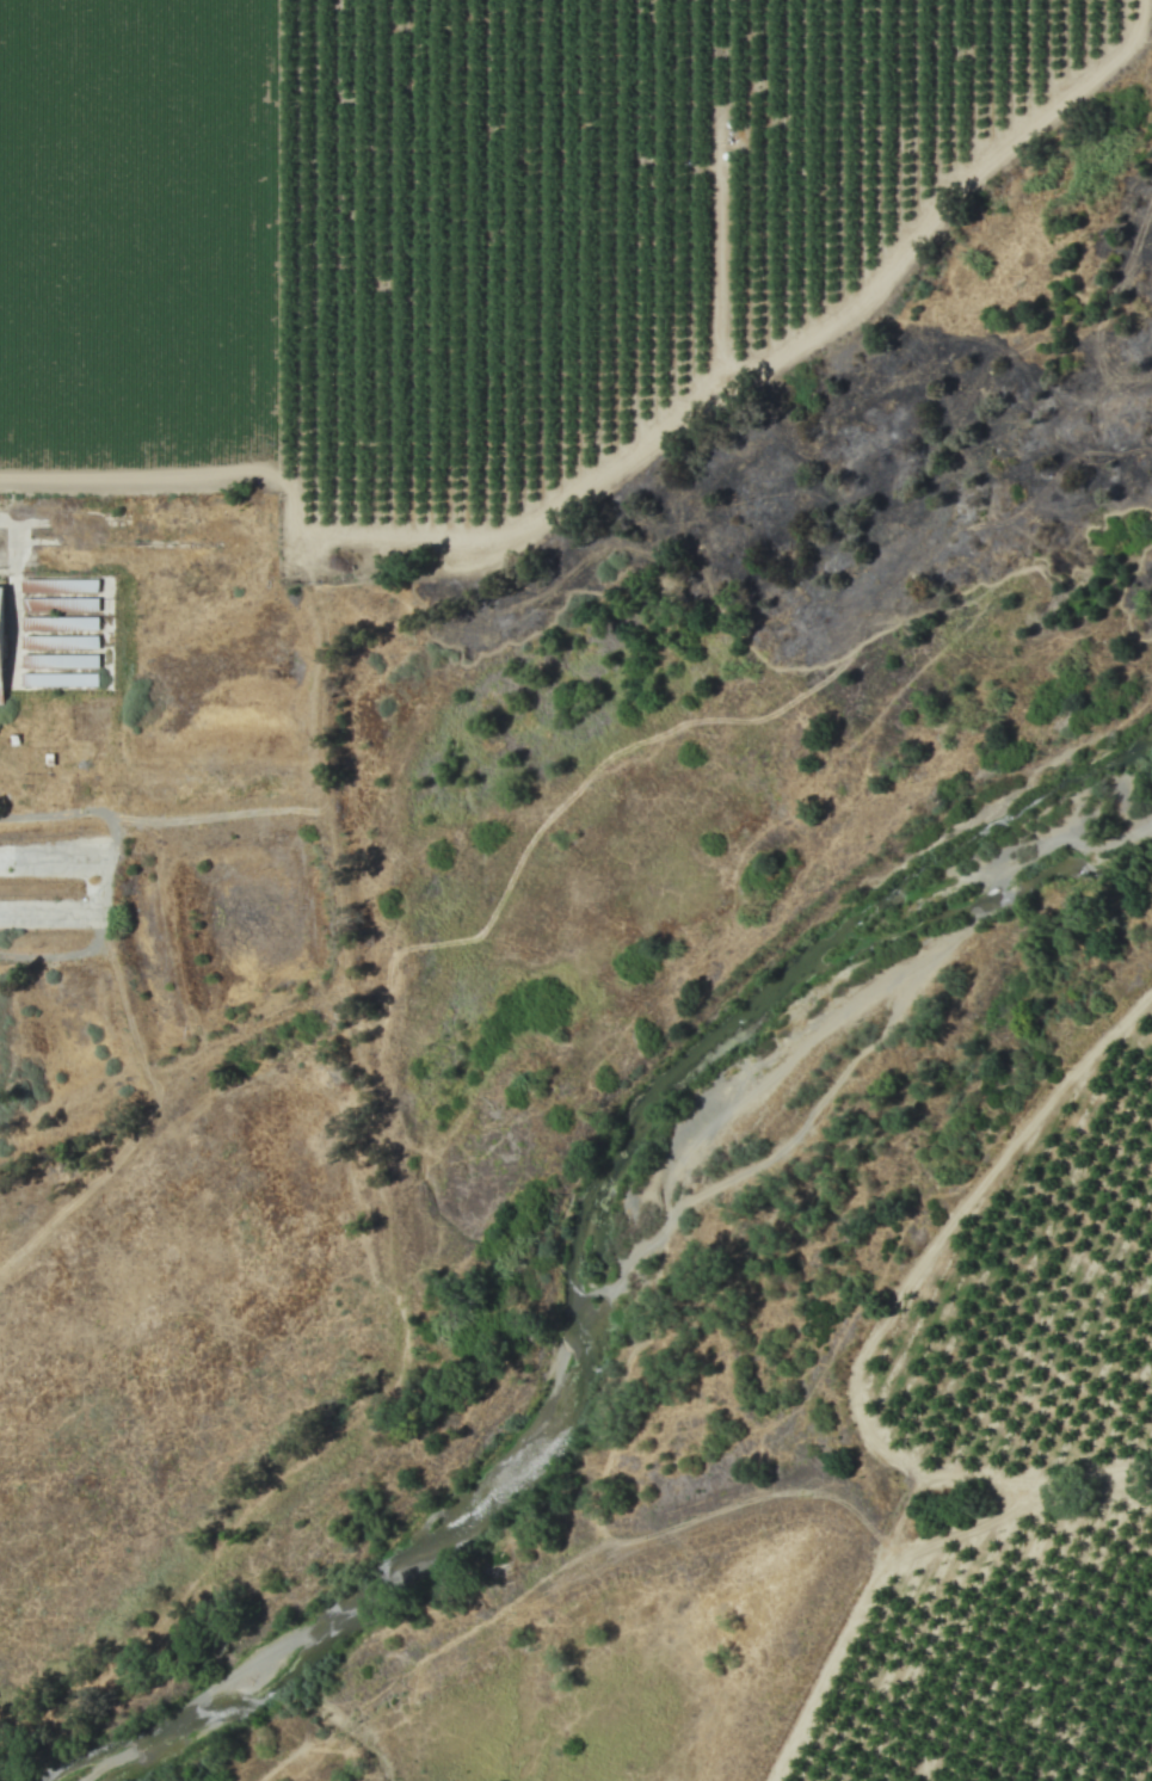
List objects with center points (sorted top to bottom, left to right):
road: (13, 535)
building: (5, 645)
river: (580, 1233)

